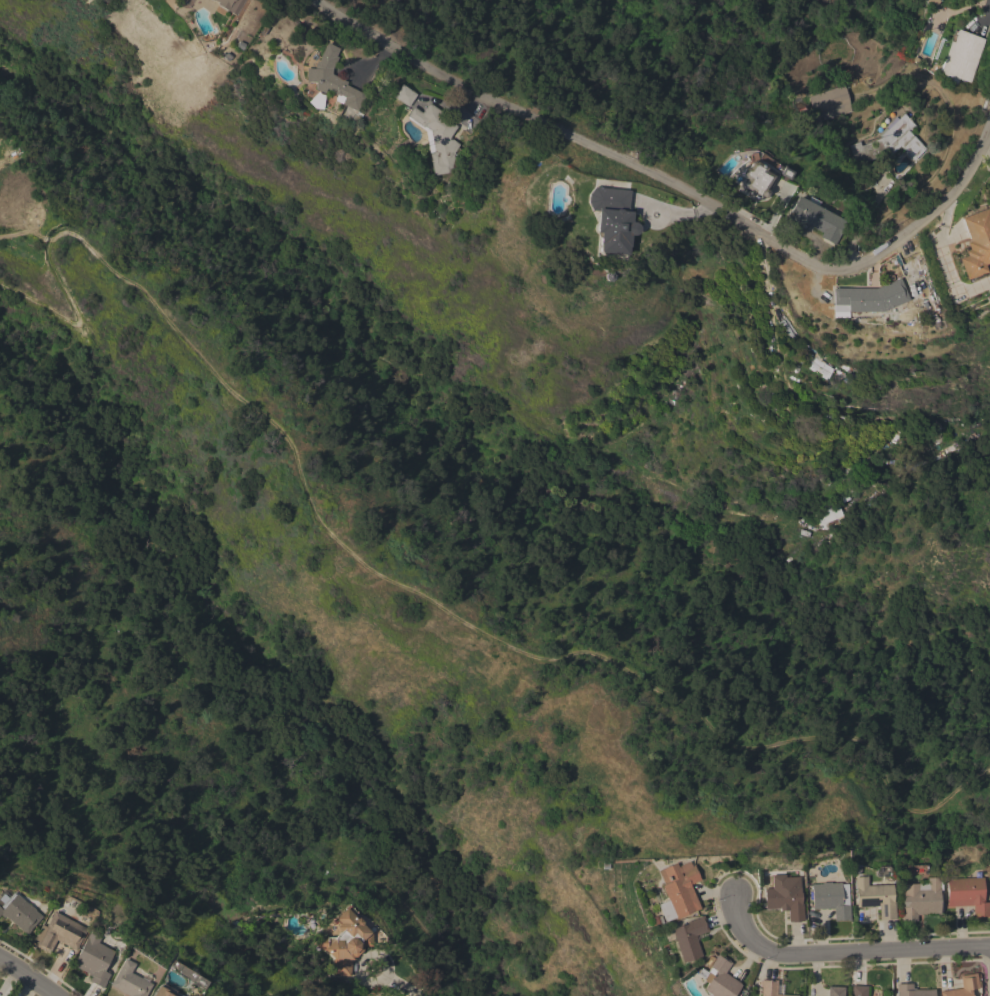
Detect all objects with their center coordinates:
building: (212, 0)
building: (930, 3)
building: (233, 11)
road: (987, 12)
building: (960, 56)
building: (332, 79)
building: (402, 95)
building: (316, 100)
building: (829, 103)
building: (435, 137)
building: (889, 143)
building: (757, 179)
road: (671, 189)
building: (611, 219)
building: (815, 219)
building: (975, 243)
building: (870, 297)
building: (818, 367)
building: (862, 483)
building: (828, 515)
road: (423, 600)
building: (677, 891)
building: (966, 895)
building: (875, 897)
building: (918, 898)
building: (829, 899)
building: (784, 901)
building: (20, 912)
building: (59, 933)
building: (688, 938)
building: (345, 941)
road: (845, 952)
road: (367, 959)
building: (93, 960)
road: (27, 976)
building: (719, 978)
building: (129, 981)
road: (401, 986)
building: (962, 986)
building: (769, 988)
building: (858, 990)
building: (912, 990)
building: (163, 991)
building: (835, 991)

